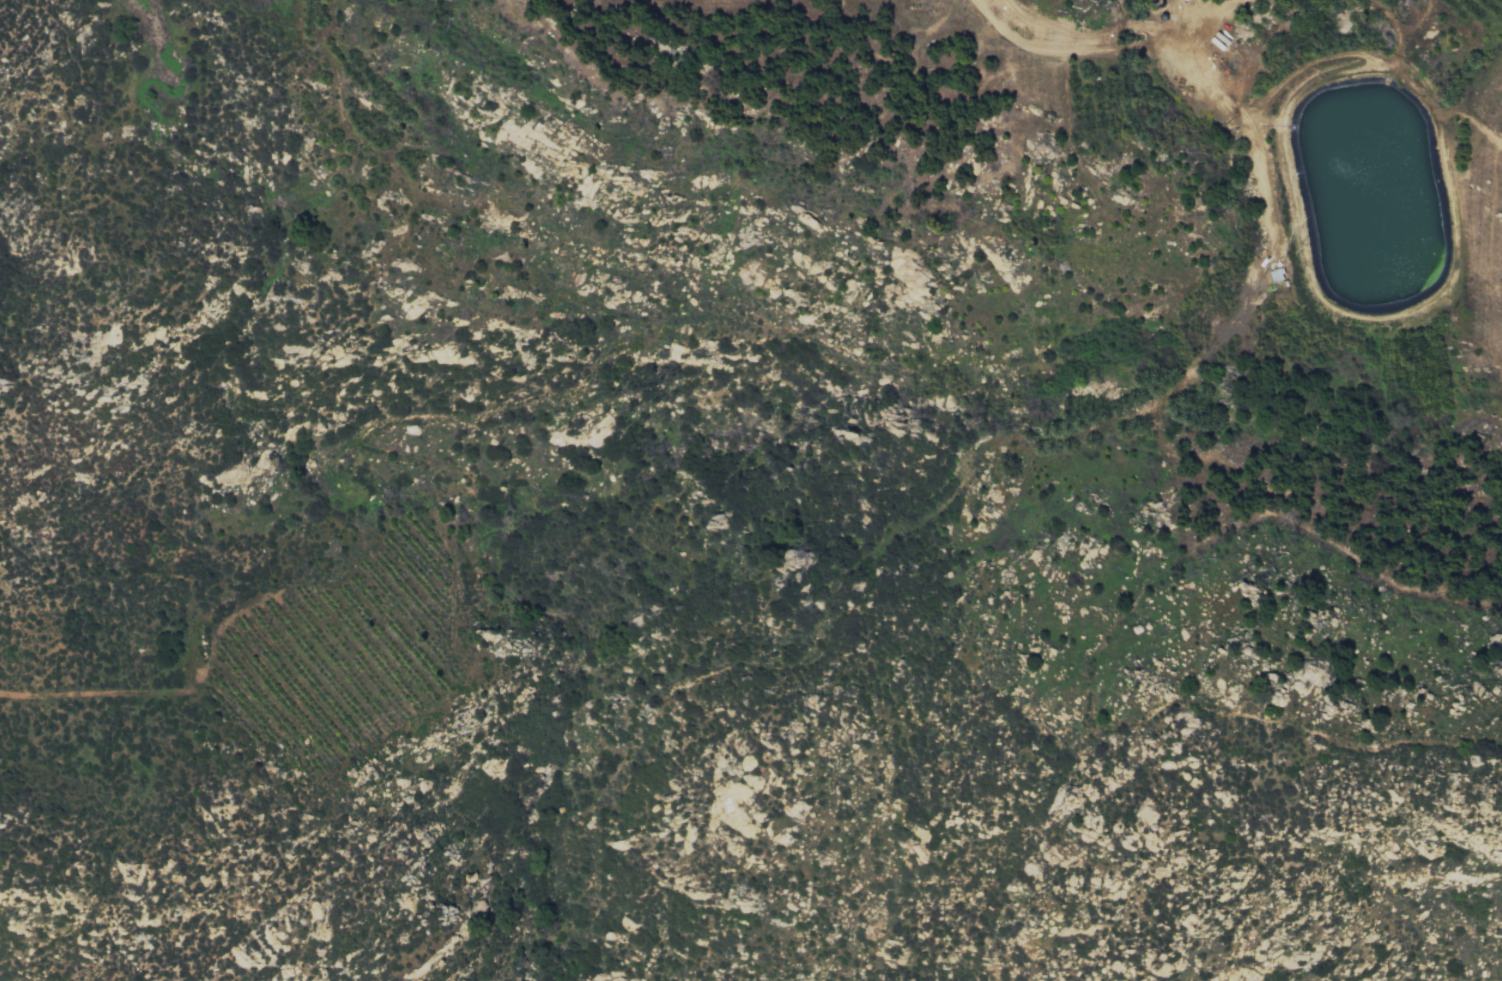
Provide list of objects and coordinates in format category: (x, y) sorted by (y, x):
road: (1104, 49)
road: (1262, 163)

